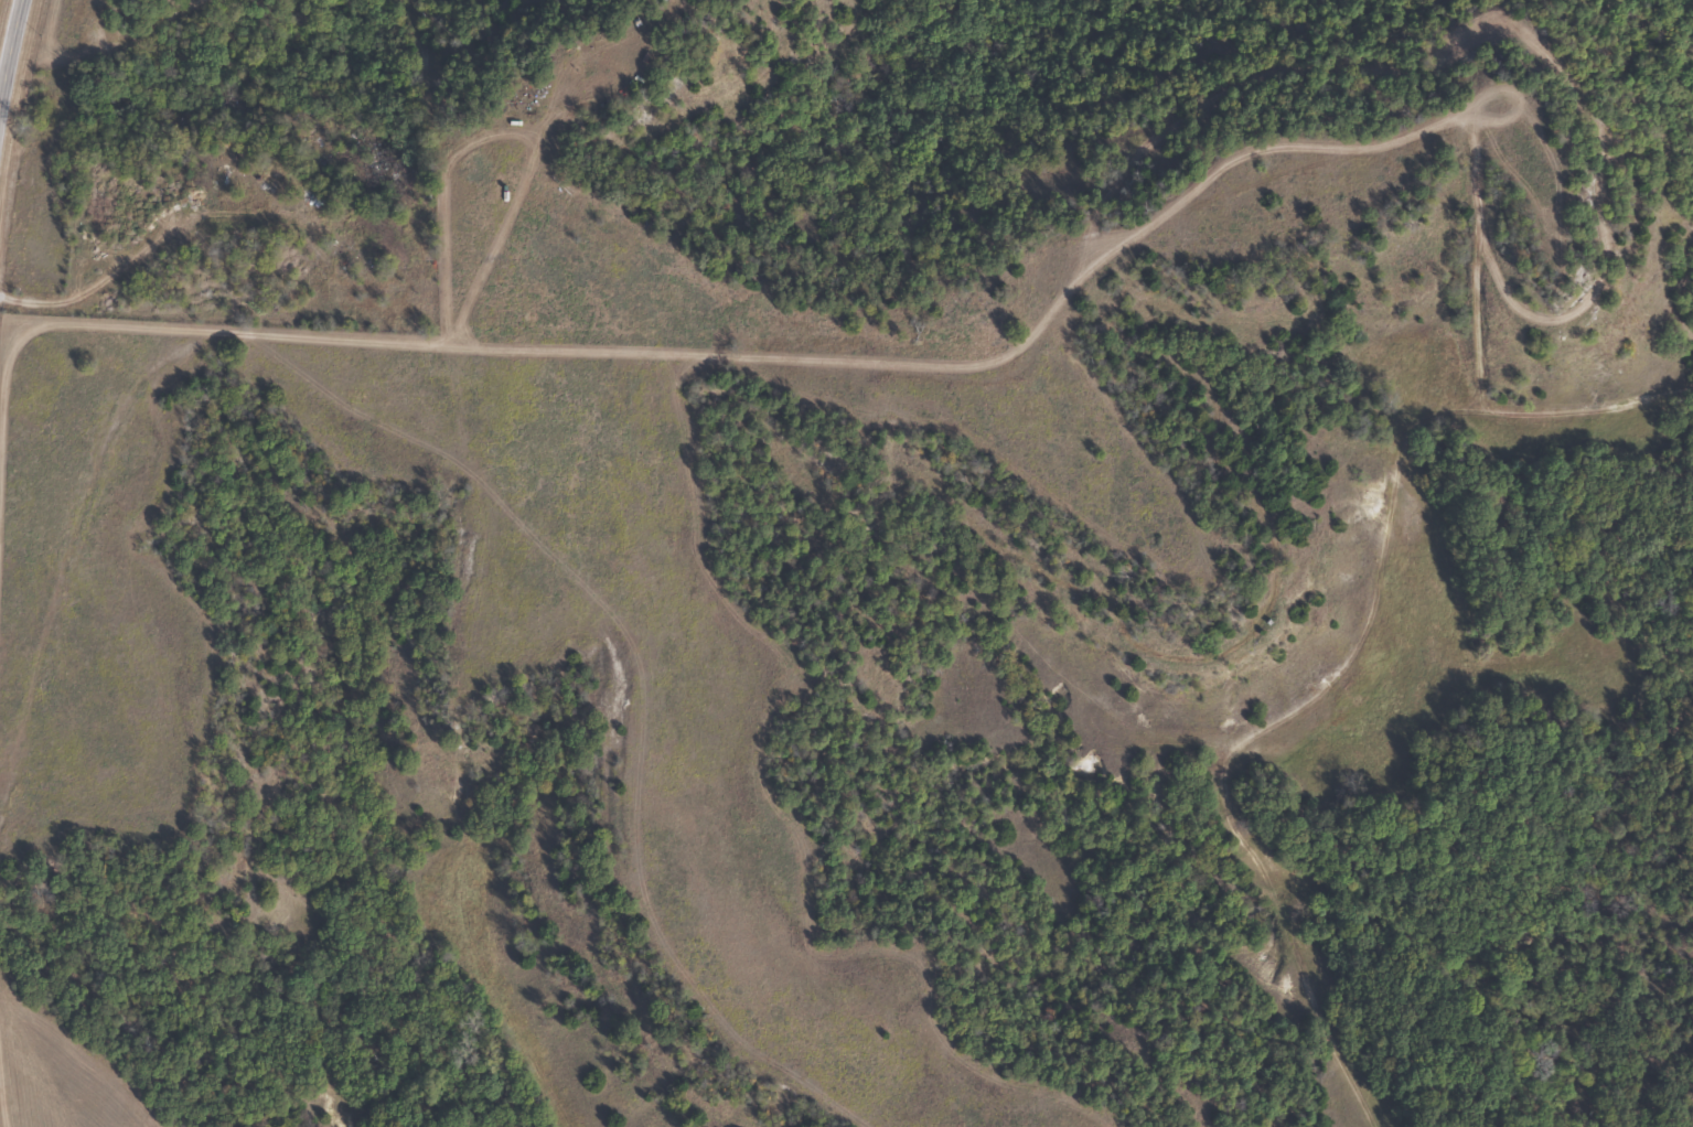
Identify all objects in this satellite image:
road: (11, 62)
road: (146, 283)

